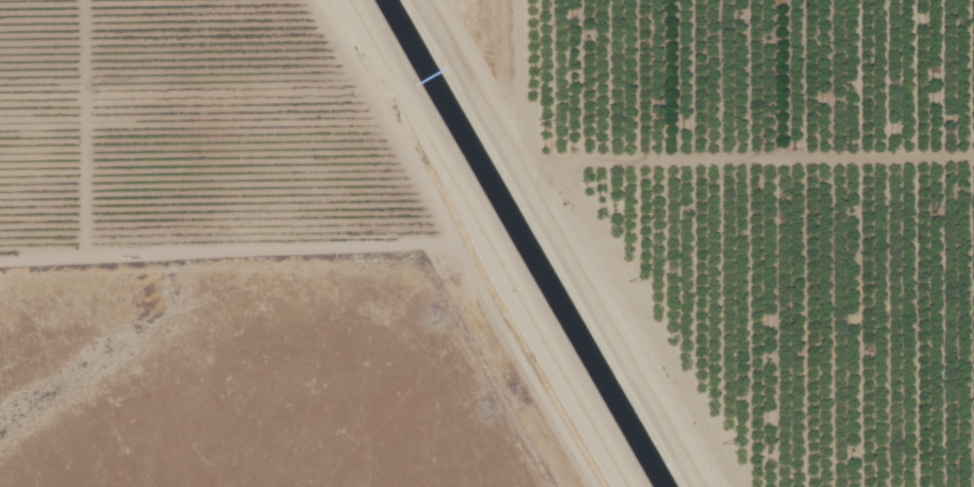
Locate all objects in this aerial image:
road: (608, 250)

